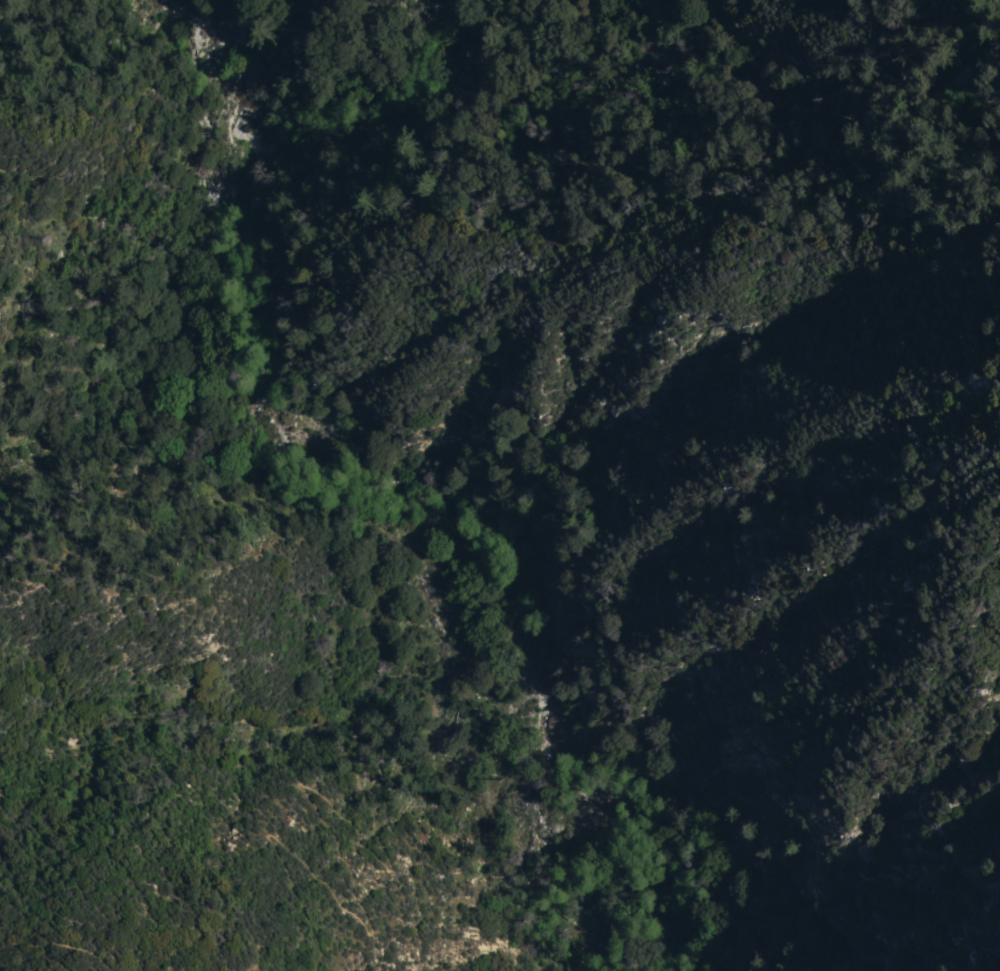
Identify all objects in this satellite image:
road: (340, 744)
road: (65, 933)

